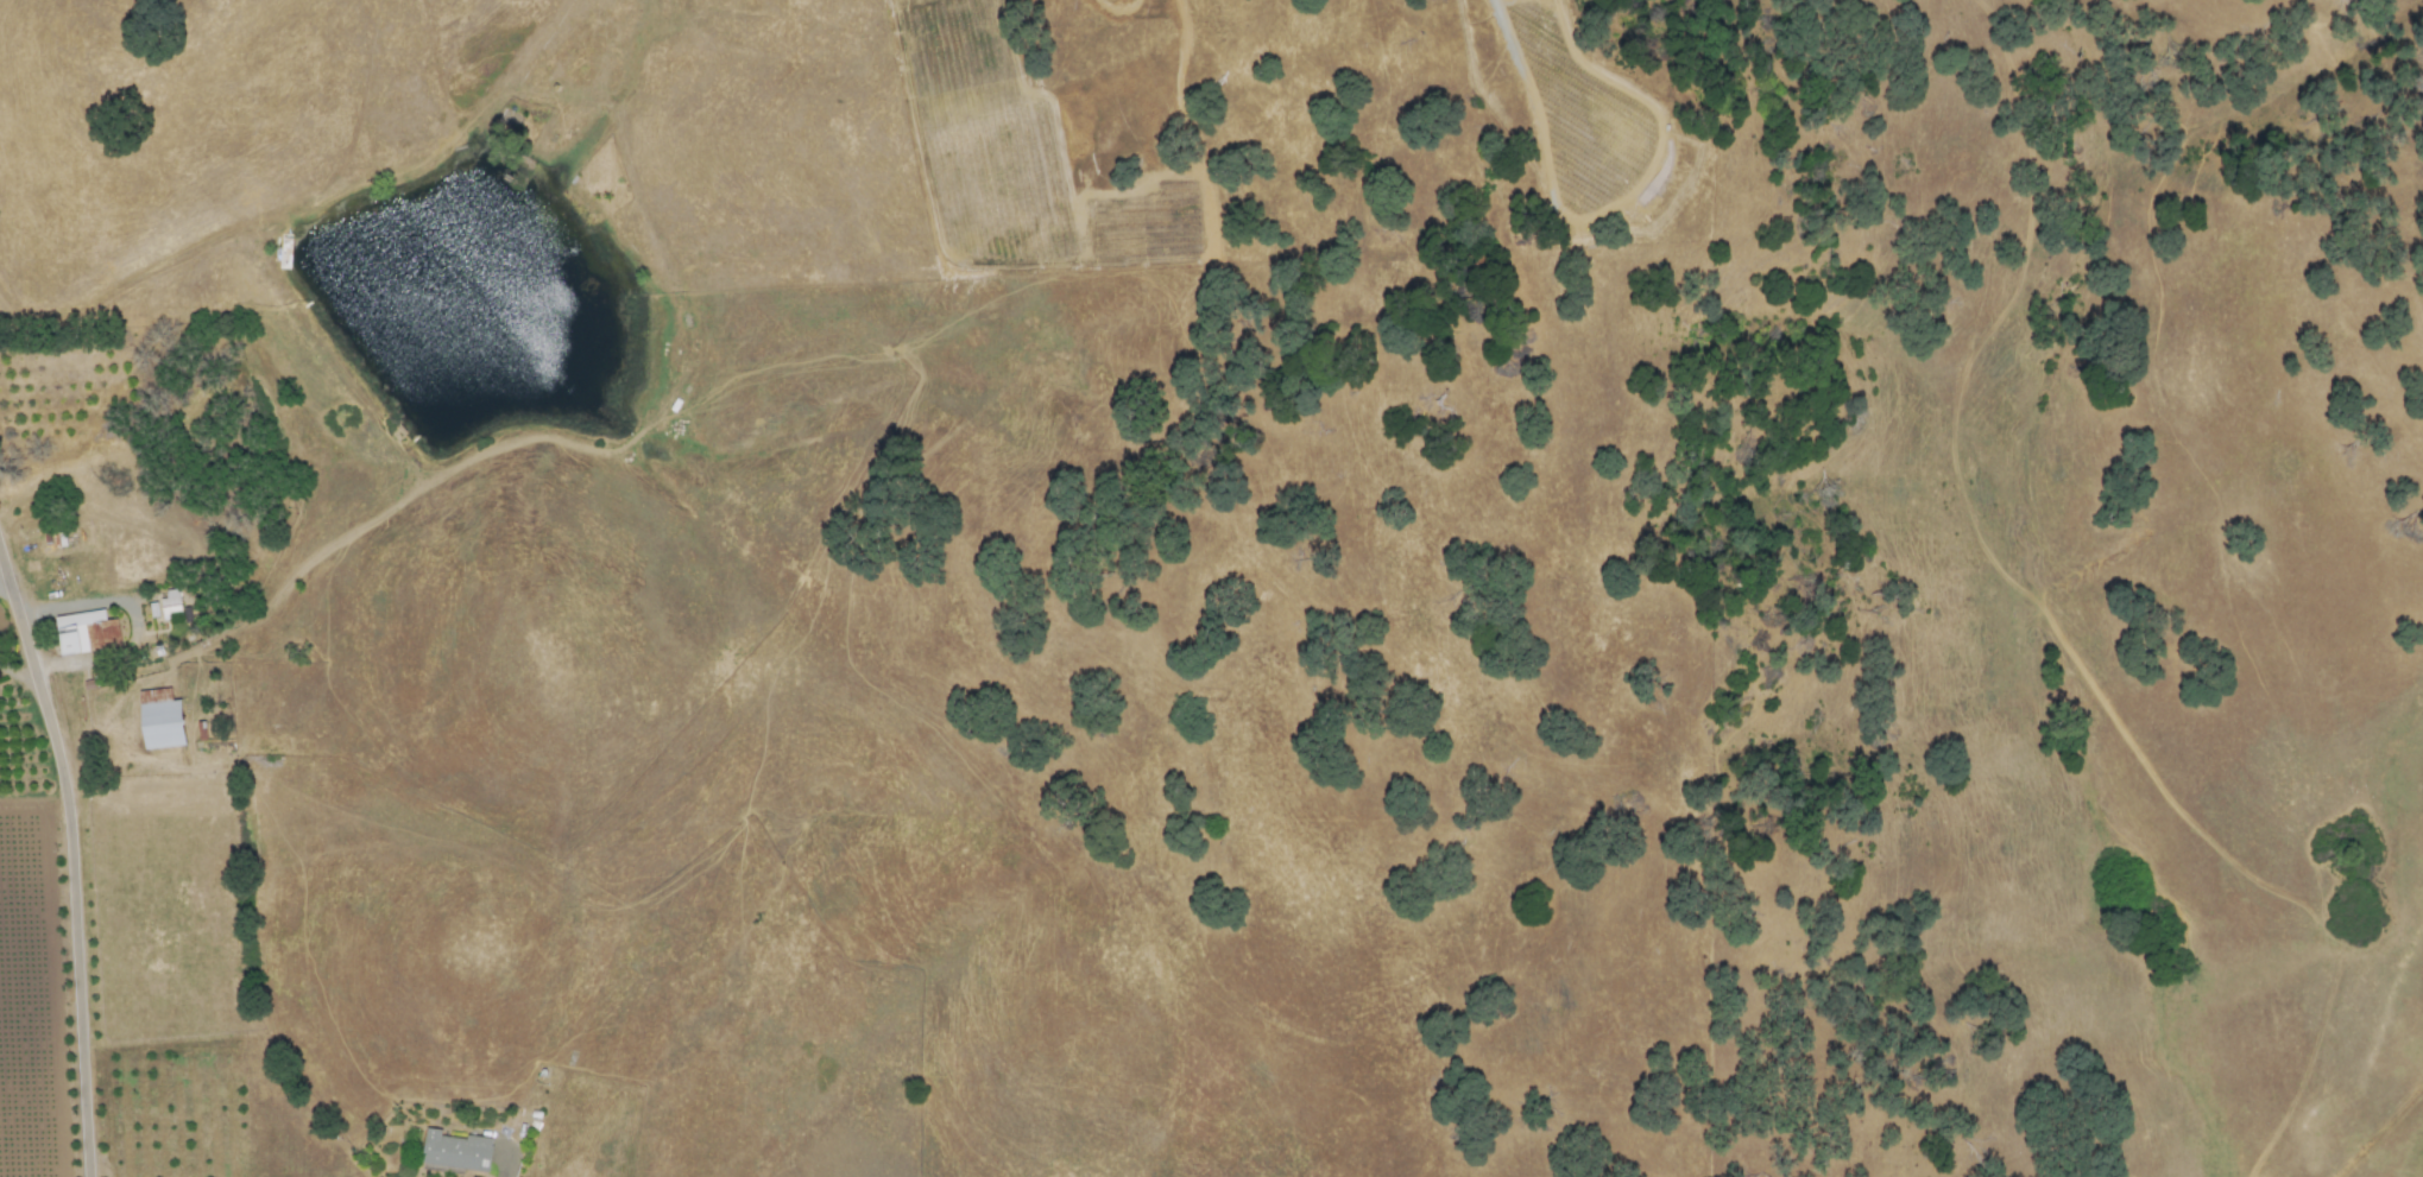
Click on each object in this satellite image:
road: (4, 570)
building: (165, 603)
road: (134, 618)
building: (82, 629)
road: (19, 673)
building: (166, 722)
road: (74, 854)
building: (458, 1150)

